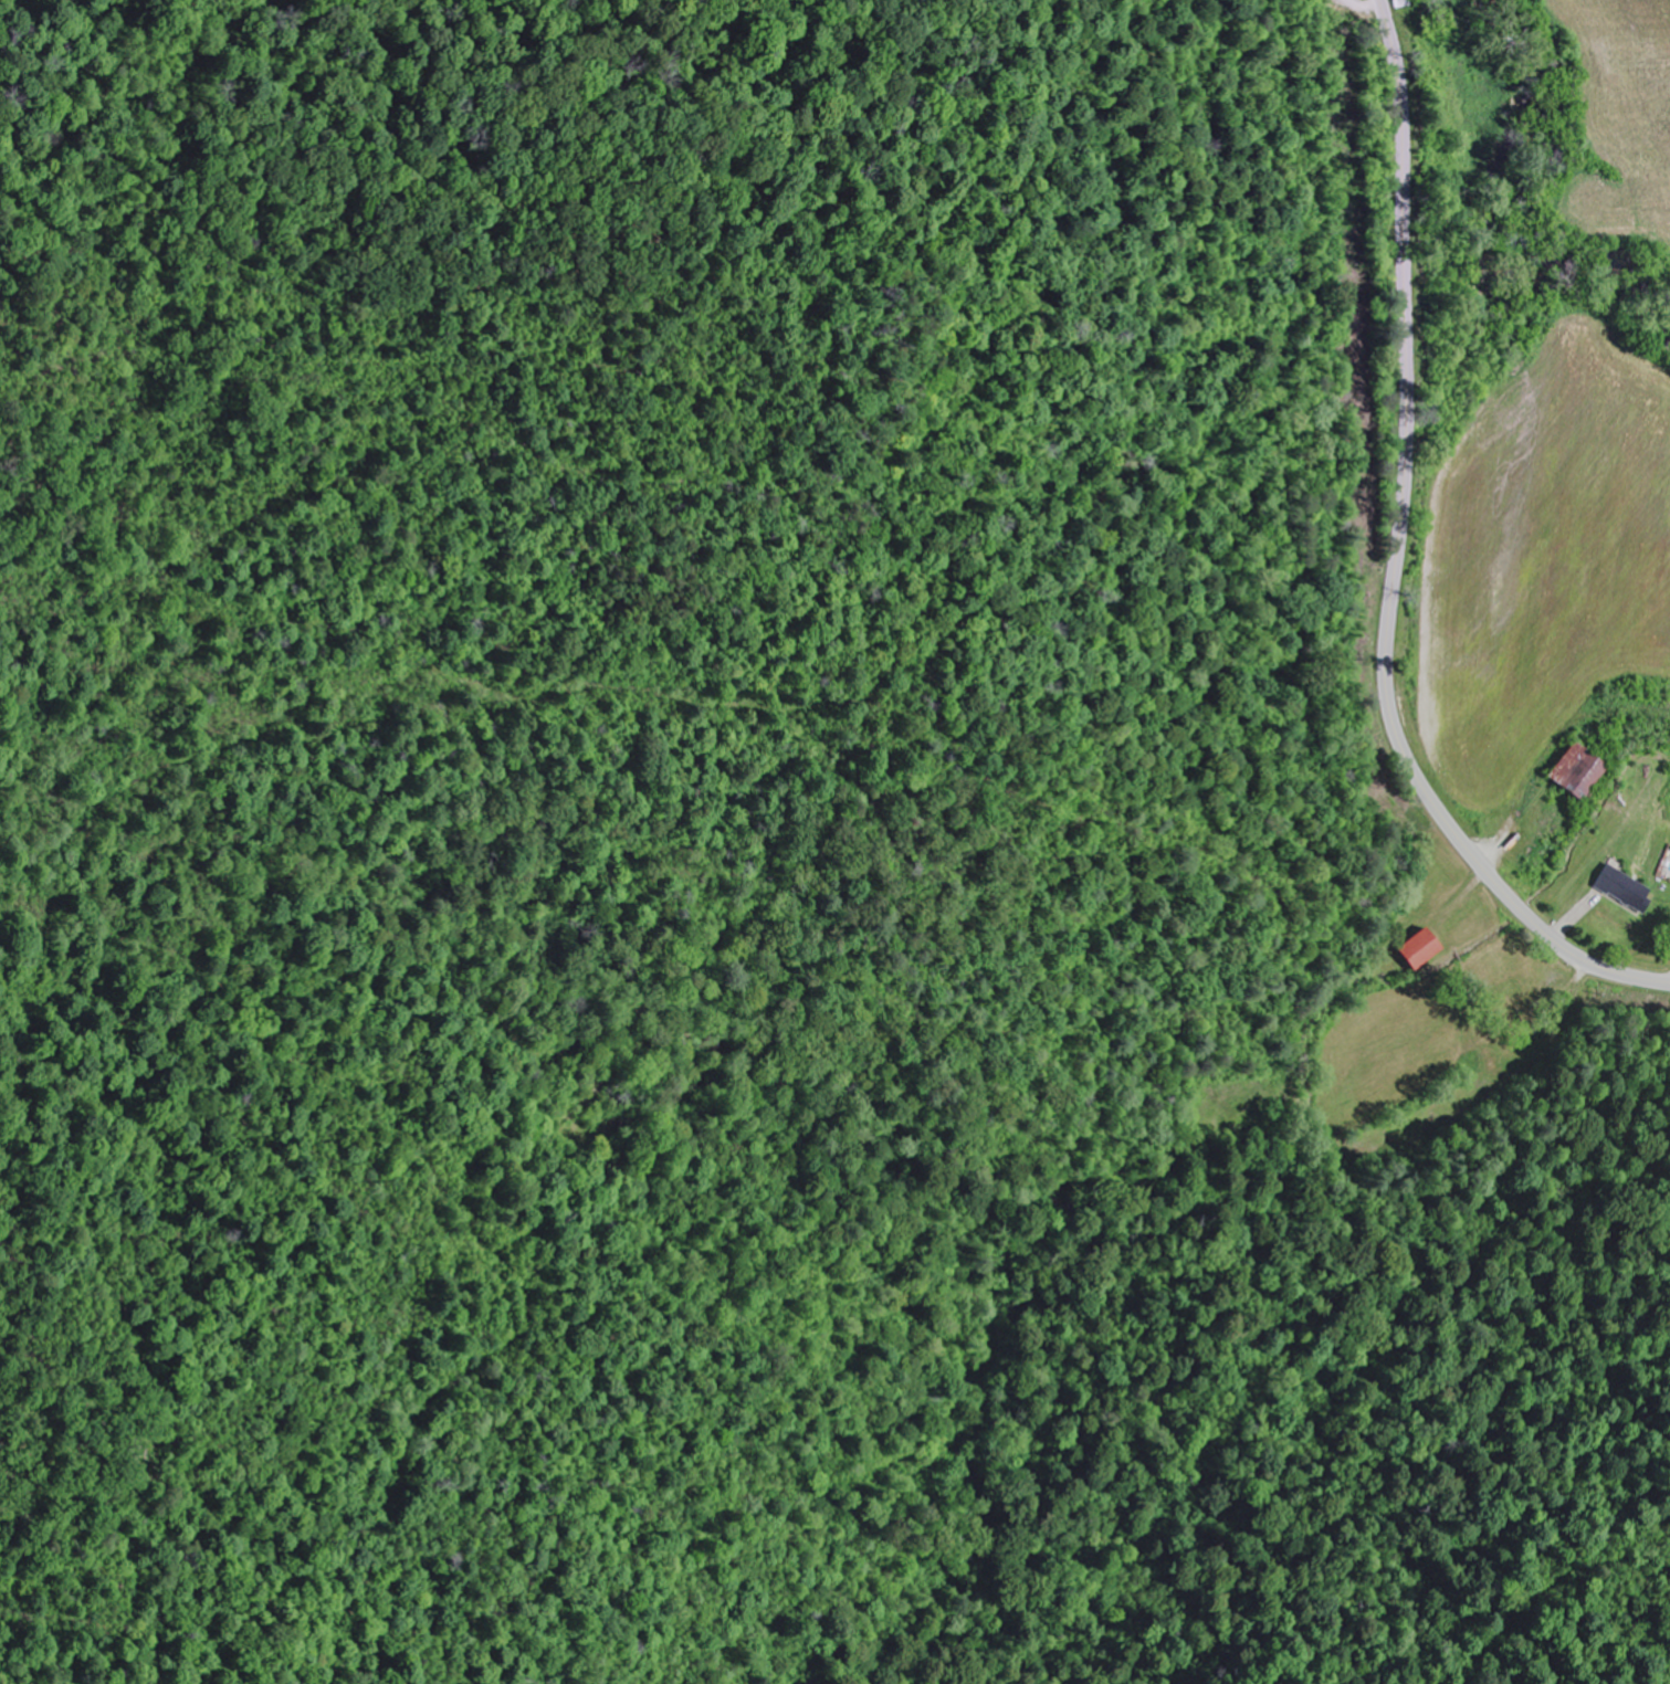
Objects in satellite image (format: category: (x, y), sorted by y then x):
river: (1483, 241)
road: (1398, 558)
building: (1627, 890)

